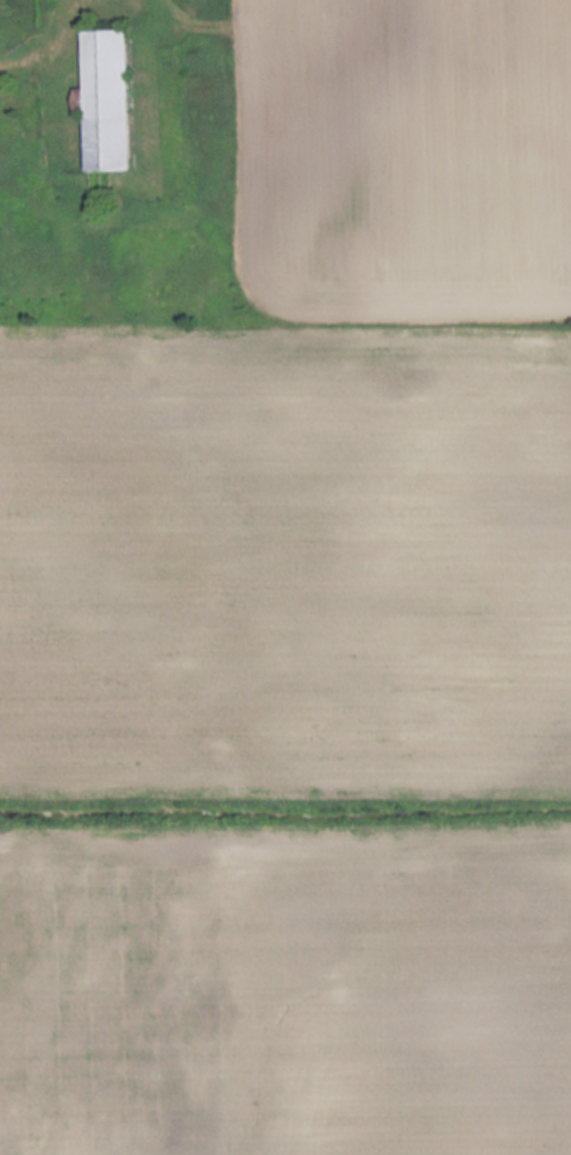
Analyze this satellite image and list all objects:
building: (107, 100)

